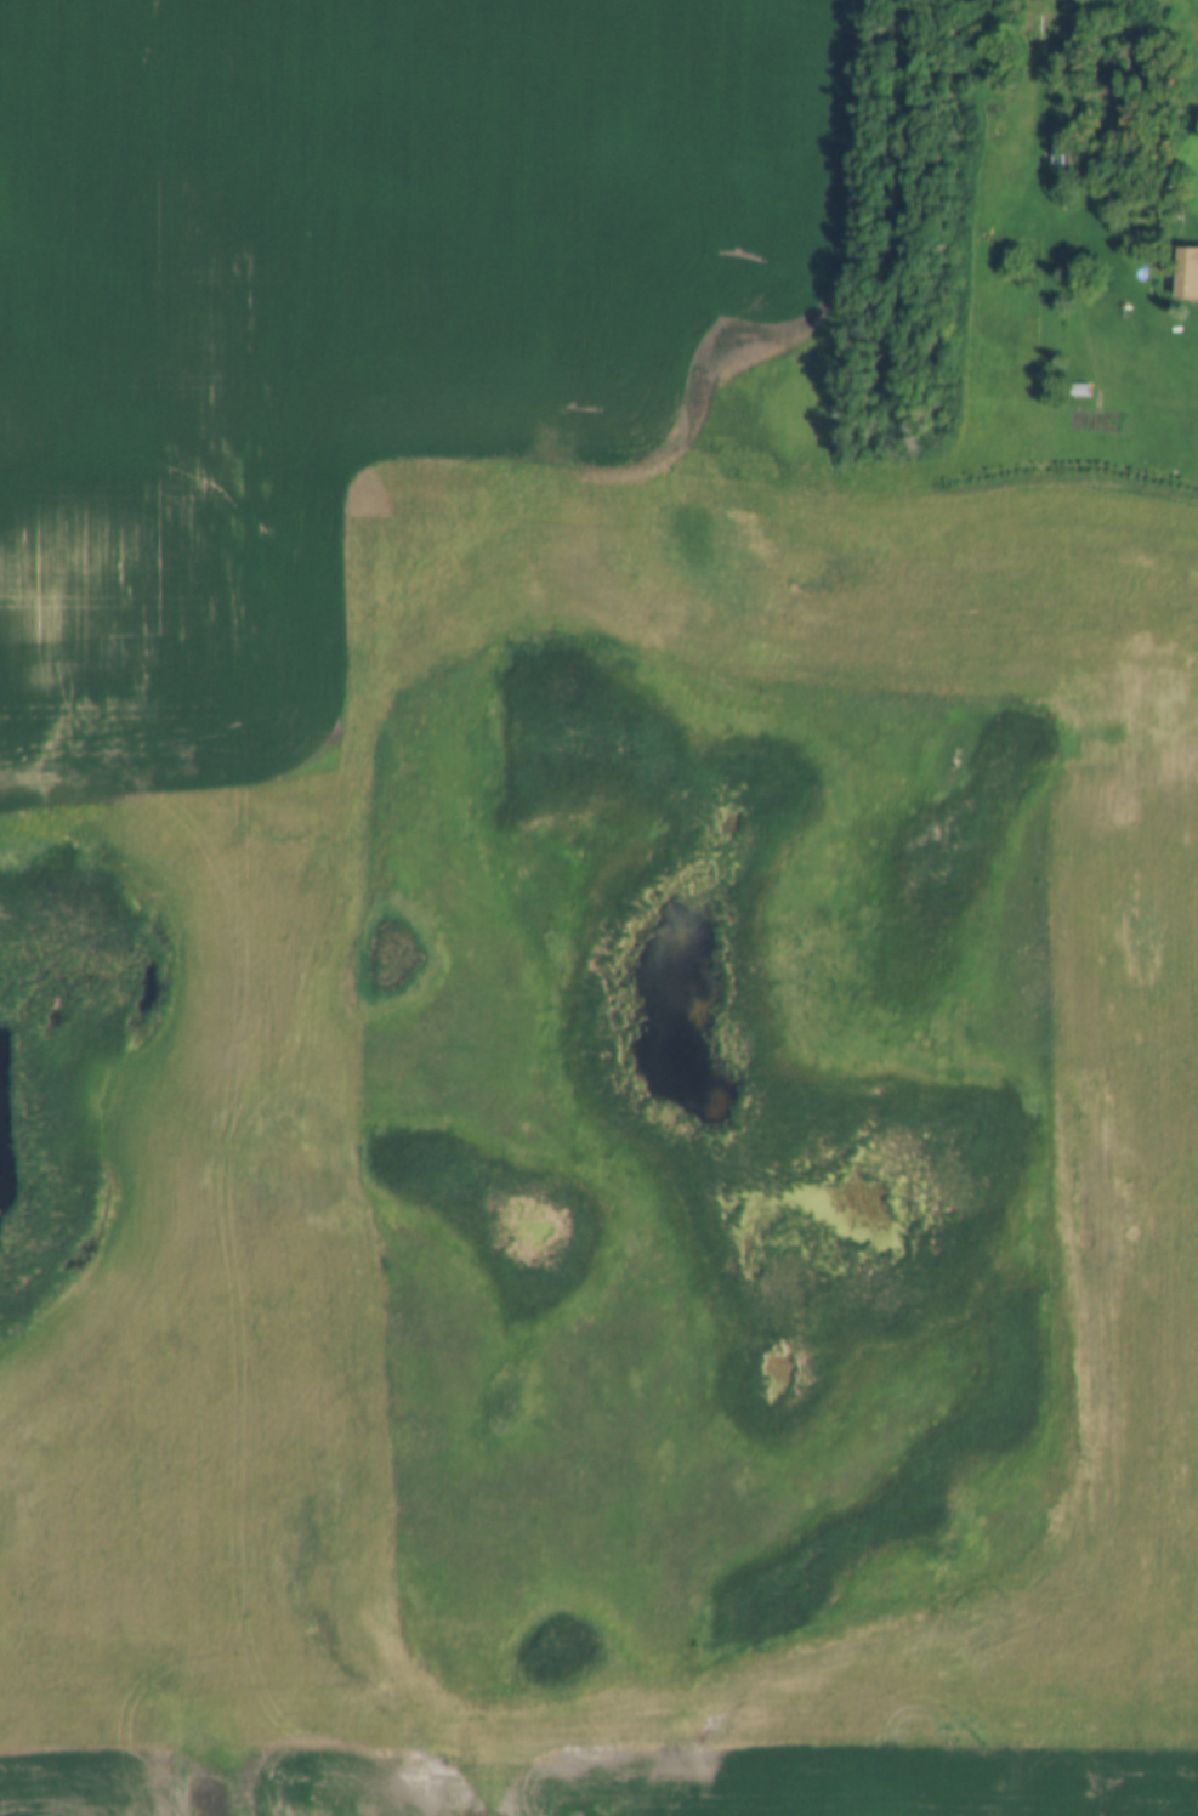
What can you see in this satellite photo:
building: (1187, 276)

